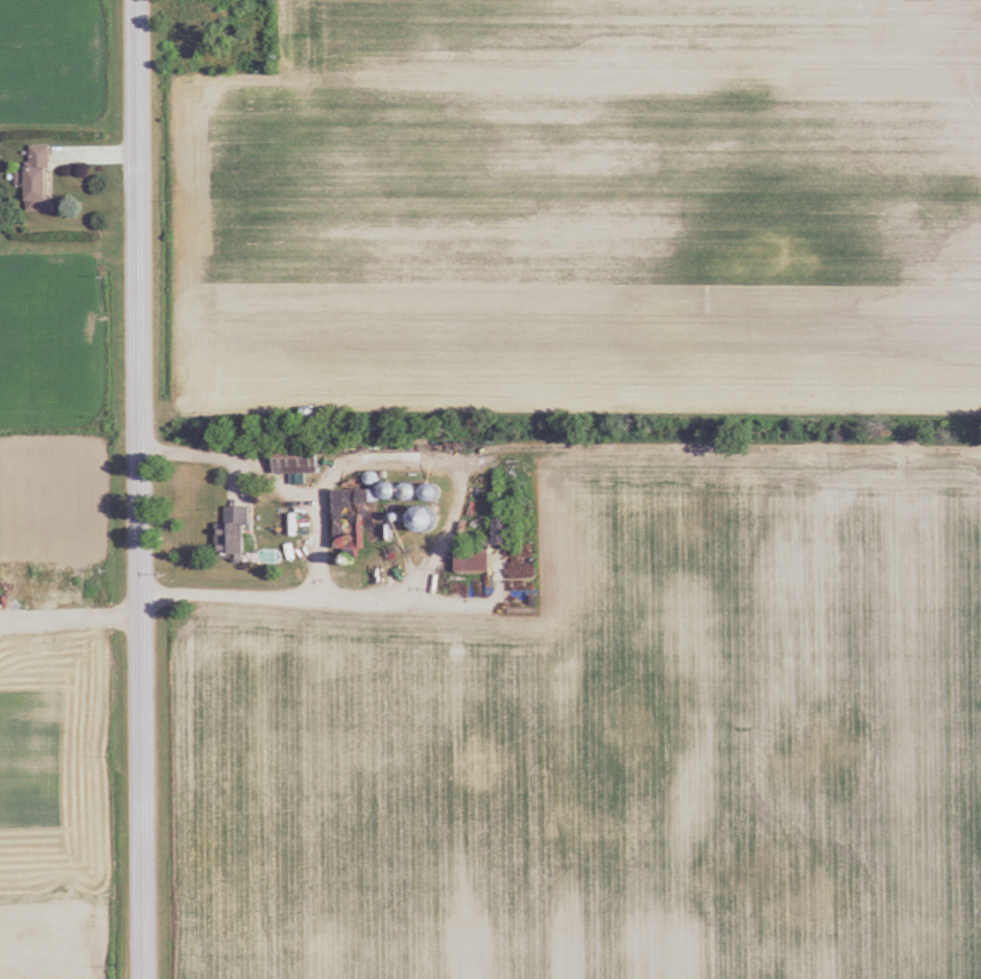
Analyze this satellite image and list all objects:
building: (40, 179)
road: (195, 454)
building: (298, 459)
road: (141, 489)
building: (411, 493)
building: (433, 493)
building: (350, 521)
building: (504, 532)
building: (234, 536)
building: (475, 562)
road: (271, 593)

